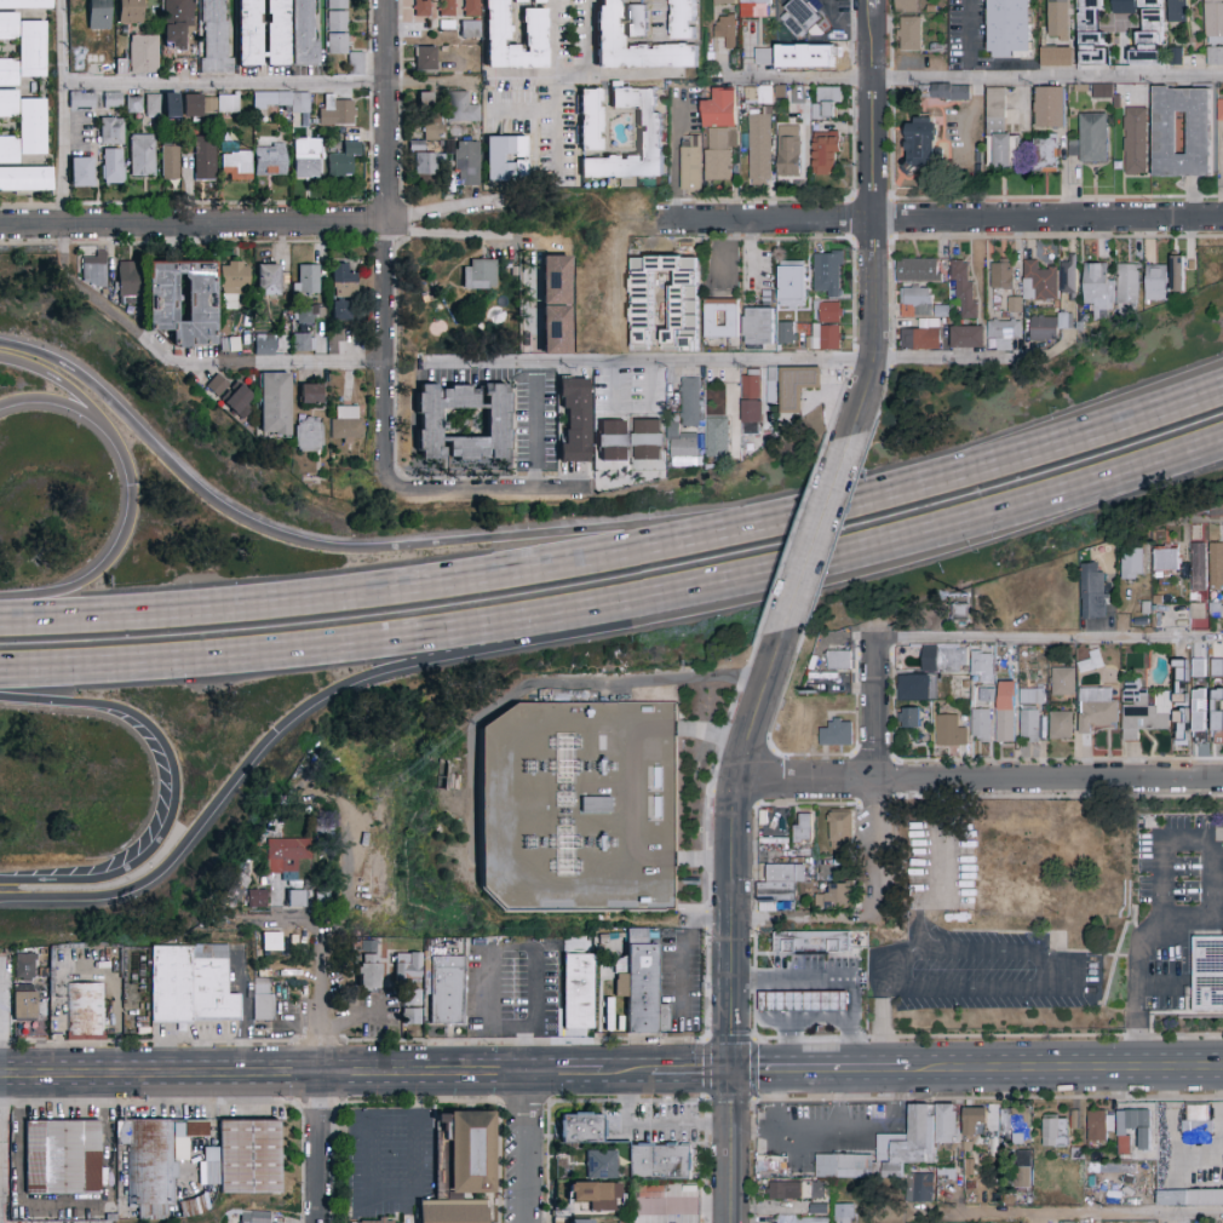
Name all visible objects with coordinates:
building: (724, 2)
building: (25, 4)
building: (907, 6)
building: (752, 7)
building: (1126, 7)
building: (421, 8)
building: (471, 8)
building: (447, 10)
building: (130, 11)
building: (1181, 11)
building: (98, 15)
road: (665, 15)
building: (803, 18)
building: (1060, 18)
building: (684, 19)
building: (636, 21)
building: (1213, 22)
building: (608, 23)
road: (842, 23)
building: (177, 24)
building: (535, 27)
building: (1010, 28)
building: (469, 29)
building: (725, 30)
building: (262, 33)
building: (304, 33)
building: (340, 34)
building: (911, 34)
building: (1091, 35)
building: (214, 36)
building: (1150, 36)
road: (586, 38)
road: (968, 39)
building: (23, 48)
building: (144, 53)
building: (792, 54)
building: (764, 57)
building: (828, 57)
building: (1057, 57)
building: (1175, 57)
building: (1215, 57)
building: (424, 58)
building: (79, 61)
road: (519, 76)
road: (574, 76)
road: (972, 76)
building: (471, 80)
road: (228, 88)
building: (1102, 91)
building: (943, 92)
building: (421, 96)
building: (758, 96)
building: (81, 99)
building: (113, 101)
building: (279, 103)
road: (926, 103)
building: (228, 104)
building: (827, 104)
building: (134, 105)
building: (153, 105)
building: (170, 105)
building: (197, 105)
building: (461, 108)
building: (1050, 108)
road: (923, 109)
building: (1219, 110)
road: (521, 111)
building: (802, 111)
building: (335, 113)
road: (65, 114)
building: (591, 120)
road: (555, 124)
building: (23, 126)
building: (111, 131)
building: (433, 131)
building: (999, 133)
building: (1200, 134)
building: (650, 136)
building: (720, 137)
building: (1093, 139)
building: (1135, 142)
building: (413, 144)
building: (759, 147)
building: (923, 148)
building: (788, 151)
building: (143, 155)
building: (826, 155)
building: (1045, 155)
building: (308, 157)
building: (205, 159)
building: (505, 159)
road: (672, 159)
building: (978, 159)
building: (270, 160)
building: (343, 160)
building: (170, 161)
building: (425, 163)
building: (691, 163)
building: (113, 166)
building: (235, 166)
building: (81, 172)
building: (467, 172)
road: (935, 178)
building: (25, 179)
road: (896, 185)
road: (995, 199)
road: (822, 200)
road: (872, 200)
road: (665, 201)
road: (891, 218)
road: (852, 219)
road: (1047, 220)
road: (874, 222)
road: (764, 224)
road: (194, 229)
road: (448, 231)
road: (994, 236)
road: (815, 239)
road: (872, 239)
road: (390, 247)
building: (93, 270)
building: (917, 270)
building: (481, 275)
building: (1177, 275)
building: (827, 276)
building: (1001, 276)
building: (687, 279)
building: (1068, 279)
building: (127, 280)
building: (268, 280)
building: (306, 280)
building: (232, 282)
building: (1039, 283)
building: (1155, 283)
building: (792, 285)
building: (1127, 285)
building: (1095, 288)
building: (963, 289)
building: (341, 291)
building: (201, 300)
building: (915, 303)
building: (556, 304)
building: (1015, 305)
road: (532, 312)
building: (941, 312)
building: (306, 315)
building: (1069, 318)
building: (720, 320)
building: (934, 323)
building: (758, 326)
building: (826, 328)
building: (1044, 329)
building: (786, 333)
building: (1004, 334)
building: (966, 338)
building: (919, 340)
building: (304, 341)
building: (230, 344)
building: (265, 345)
road: (951, 361)
road: (654, 362)
road: (190, 364)
road: (53, 380)
building: (217, 385)
building: (771, 386)
building: (797, 386)
building: (310, 395)
building: (239, 402)
building: (275, 404)
building: (751, 404)
building: (575, 420)
building: (346, 424)
building: (498, 424)
building: (688, 426)
building: (309, 435)
road: (533, 438)
building: (718, 438)
building: (611, 441)
building: (648, 441)
road: (1028, 460)
road: (486, 494)
road: (133, 498)
road: (819, 540)
road: (381, 552)
building: (1166, 559)
building: (1131, 564)
building: (1216, 567)
building: (1199, 568)
building: (1182, 569)
road: (417, 582)
building: (1093, 592)
road: (619, 607)
building: (1196, 609)
building: (960, 610)
building: (1215, 611)
road: (1051, 628)
building: (839, 660)
building: (944, 660)
building: (1091, 662)
building: (982, 665)
building: (1216, 665)
building: (1196, 666)
building: (1063, 682)
road: (546, 684)
building: (914, 688)
building: (984, 694)
building: (1030, 696)
building: (1098, 710)
building: (1143, 711)
building: (1005, 712)
road: (302, 713)
building: (1217, 717)
building: (911, 718)
building: (1199, 720)
building: (1061, 725)
building: (980, 727)
building: (1029, 727)
building: (949, 731)
building: (837, 734)
road: (716, 735)
road: (878, 771)
road: (982, 780)
road: (174, 792)
road: (633, 794)
building: (582, 810)
power substation: (582, 810)
building: (802, 829)
building: (840, 831)
road: (1210, 842)
building: (1108, 850)
building: (286, 855)
road: (707, 860)
building: (991, 869)
building: (780, 883)
building: (231, 891)
building: (836, 897)
building: (255, 898)
building: (295, 898)
building: (1080, 908)
road: (804, 918)
road: (731, 929)
building: (272, 941)
building: (811, 942)
road: (684, 944)
road: (536, 948)
road: (1040, 963)
building: (24, 965)
building: (369, 965)
building: (406, 966)
parking lot: (981, 972)
building: (1207, 974)
road: (838, 976)
road: (1158, 983)
building: (191, 984)
building: (642, 988)
building: (447, 991)
road: (1136, 991)
building: (578, 992)
building: (804, 1003)
building: (24, 1005)
building: (85, 1010)
building: (264, 1015)
building: (412, 1017)
road: (797, 1023)
road: (882, 1029)
road: (526, 1039)
road: (754, 1040)
road: (147, 1041)
road: (320, 1041)
road: (1066, 1068)
road: (820, 1070)
road: (690, 1072)
traffic signals: (731, 1072)
road: (565, 1073)
road: (627, 1073)
road: (264, 1074)
road: (316, 1075)
road: (895, 1096)
road: (627, 1099)
road: (838, 1099)
road: (776, 1101)
road: (420, 1102)
road: (524, 1102)
road: (148, 1103)
road: (317, 1106)
building: (1196, 1120)
building: (975, 1121)
building: (1017, 1125)
building: (1098, 1126)
building: (1138, 1126)
building: (581, 1127)
road: (813, 1129)
road: (344, 1130)
building: (1056, 1132)
road: (527, 1148)
road: (2, 1149)
building: (902, 1153)
building: (154, 1156)
building: (63, 1158)
building: (242, 1159)
building: (598, 1162)
building: (660, 1162)
road: (300, 1164)
building: (461, 1169)
building: (1023, 1172)
building: (783, 1190)
building: (816, 1192)
road: (414, 1195)
building: (595, 1195)
building: (1189, 1199)
building: (845, 1213)
road: (1069, 1215)
building: (255, 1217)
building: (809, 1221)
building: (378, 1222)
building: (584, 1222)

